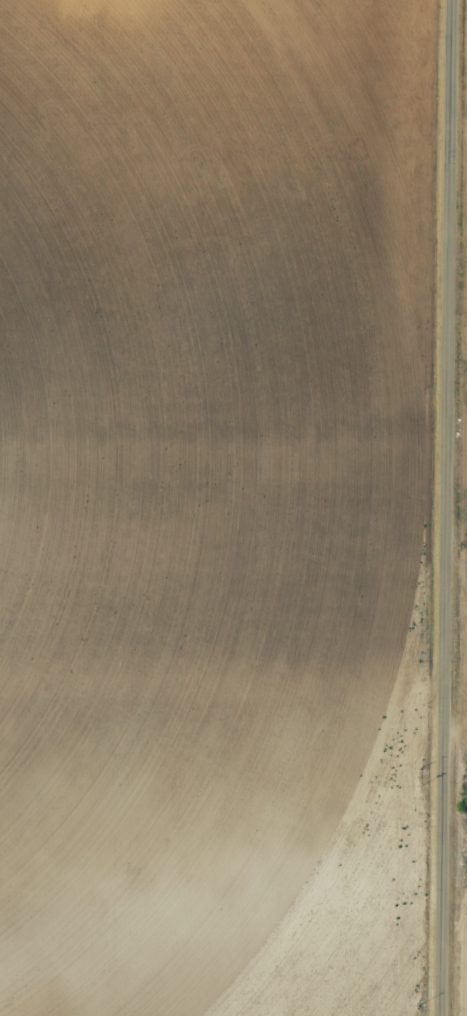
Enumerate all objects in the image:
road: (443, 508)
road: (455, 566)
road: (219, 734)

